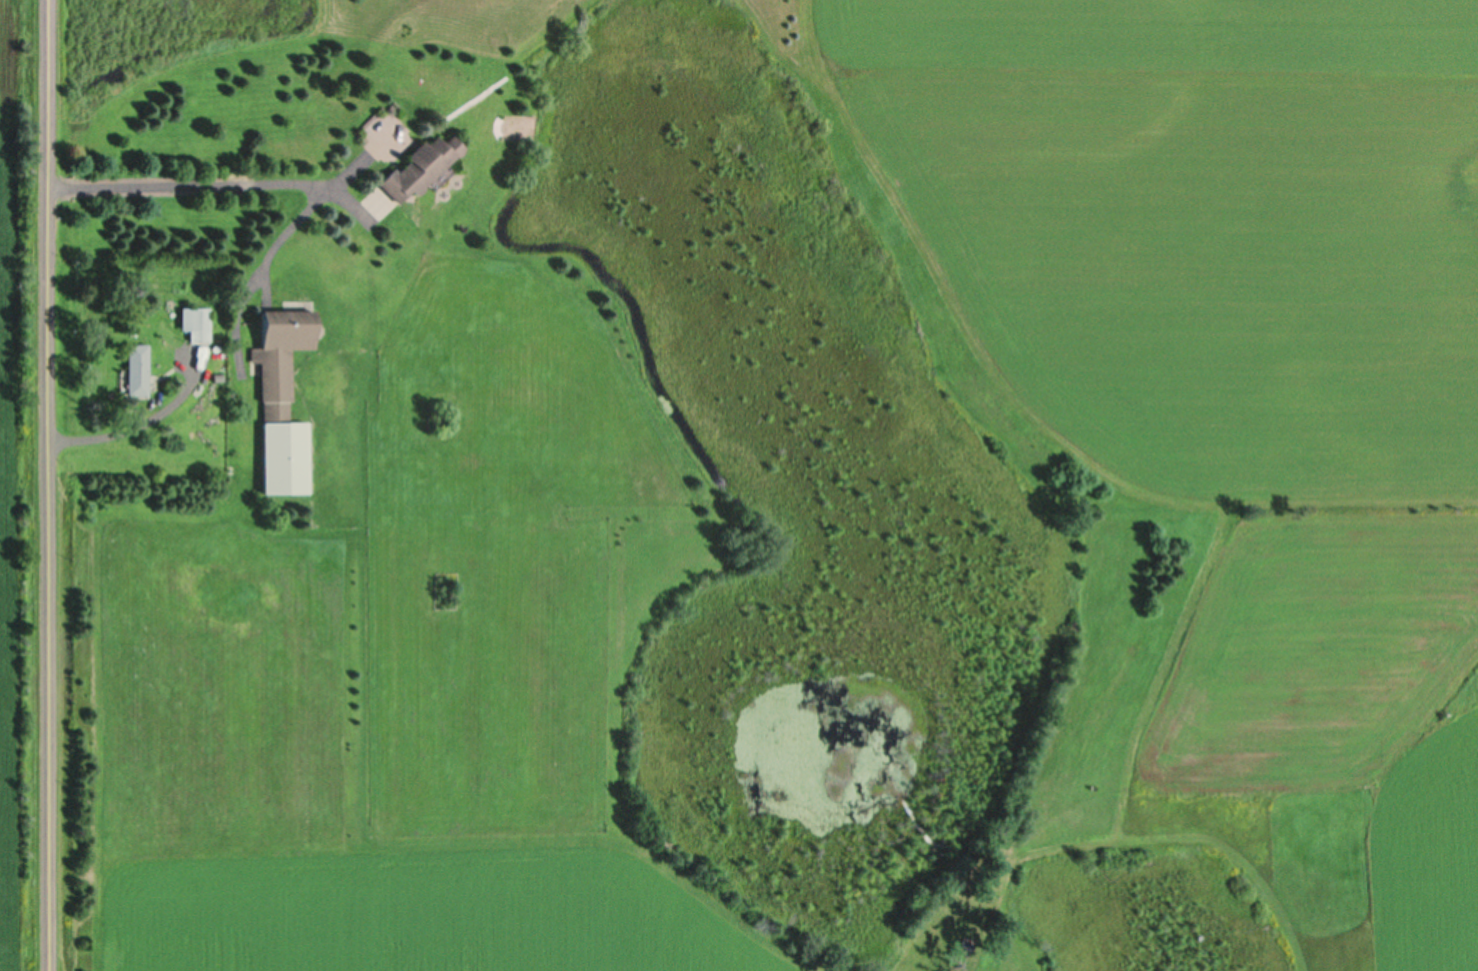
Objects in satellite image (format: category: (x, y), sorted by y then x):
building: (520, 128)
building: (419, 169)
building: (197, 326)
building: (136, 371)
building: (282, 404)
road: (46, 485)

